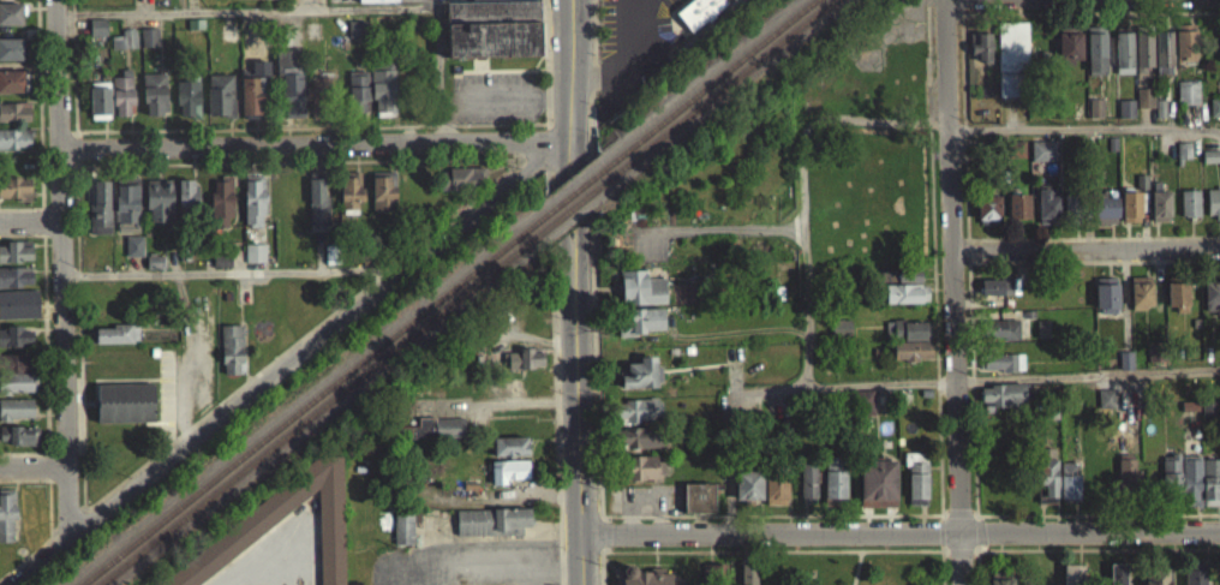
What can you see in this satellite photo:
building: (193, 1)
building: (252, 1)
road: (305, 4)
building: (376, 5)
road: (624, 11)
building: (698, 11)
road: (1081, 11)
building: (10, 23)
building: (492, 34)
building: (97, 36)
building: (354, 37)
building: (228, 42)
building: (148, 46)
building: (124, 48)
building: (1184, 50)
building: (980, 54)
road: (624, 56)
building: (1069, 56)
building: (11, 58)
building: (1123, 61)
building: (1142, 61)
building: (1161, 61)
building: (1095, 62)
road: (567, 68)
building: (1011, 68)
railway: (710, 83)
building: (10, 90)
building: (289, 90)
railway: (719, 90)
building: (316, 96)
building: (357, 100)
building: (252, 101)
building: (1186, 101)
building: (121, 103)
building: (154, 103)
building: (219, 103)
building: (1215, 105)
building: (186, 107)
building: (1143, 107)
building: (98, 112)
building: (1095, 117)
building: (1125, 118)
building: (13, 120)
road: (1082, 125)
road: (315, 143)
building: (13, 148)
building: (1016, 157)
building: (1042, 160)
building: (1183, 160)
building: (1209, 165)
building: (461, 186)
railway: (578, 189)
building: (14, 197)
building: (382, 199)
building: (349, 201)
road: (581, 202)
building: (1214, 202)
road: (562, 203)
railway: (578, 203)
building: (186, 204)
building: (157, 209)
building: (252, 209)
building: (125, 211)
building: (220, 211)
building: (97, 213)
building: (1189, 213)
building: (317, 215)
building: (1018, 215)
building: (1048, 215)
building: (1130, 215)
building: (1159, 215)
building: (987, 216)
building: (1104, 216)
road: (30, 219)
road: (19, 232)
road: (1083, 234)
road: (1084, 247)
building: (134, 255)
road: (1083, 258)
building: (14, 261)
building: (253, 262)
road: (61, 267)
building: (909, 285)
building: (14, 286)
road: (949, 292)
building: (1000, 294)
building: (1212, 294)
building: (640, 297)
building: (1141, 302)
building: (905, 303)
building: (1106, 304)
building: (1177, 305)
building: (18, 314)
building: (640, 330)
building: (839, 336)
building: (1042, 338)
building: (907, 339)
building: (1000, 339)
building: (115, 342)
building: (14, 346)
building: (232, 358)
building: (911, 359)
road: (288, 360)
building: (1155, 360)
building: (524, 368)
building: (1003, 371)
road: (1086, 372)
building: (640, 382)
building: (14, 383)
railway: (315, 399)
railway: (323, 405)
building: (1003, 405)
building: (862, 411)
building: (124, 412)
building: (14, 418)
building: (636, 419)
road: (578, 425)
building: (433, 438)
building: (18, 444)
building: (636, 447)
road: (24, 450)
building: (509, 455)
road: (32, 465)
building: (640, 477)
road: (25, 478)
building: (507, 479)
building: (1212, 480)
building: (1171, 483)
building: (1045, 484)
building: (1128, 484)
building: (832, 486)
building: (915, 488)
building: (1069, 489)
building: (1190, 489)
building: (806, 491)
building: (877, 493)
building: (747, 495)
building: (773, 499)
building: (698, 507)
road: (1088, 511)
building: (6, 525)
building: (257, 530)
building: (490, 530)
road: (901, 531)
building: (402, 537)
road: (1088, 545)
park: (853, 557)
road: (12, 567)
road: (480, 568)
building: (747, 578)
building: (1117, 578)
building: (1194, 578)
building: (712, 579)
building: (1071, 579)
building: (1158, 580)
building: (648, 581)

